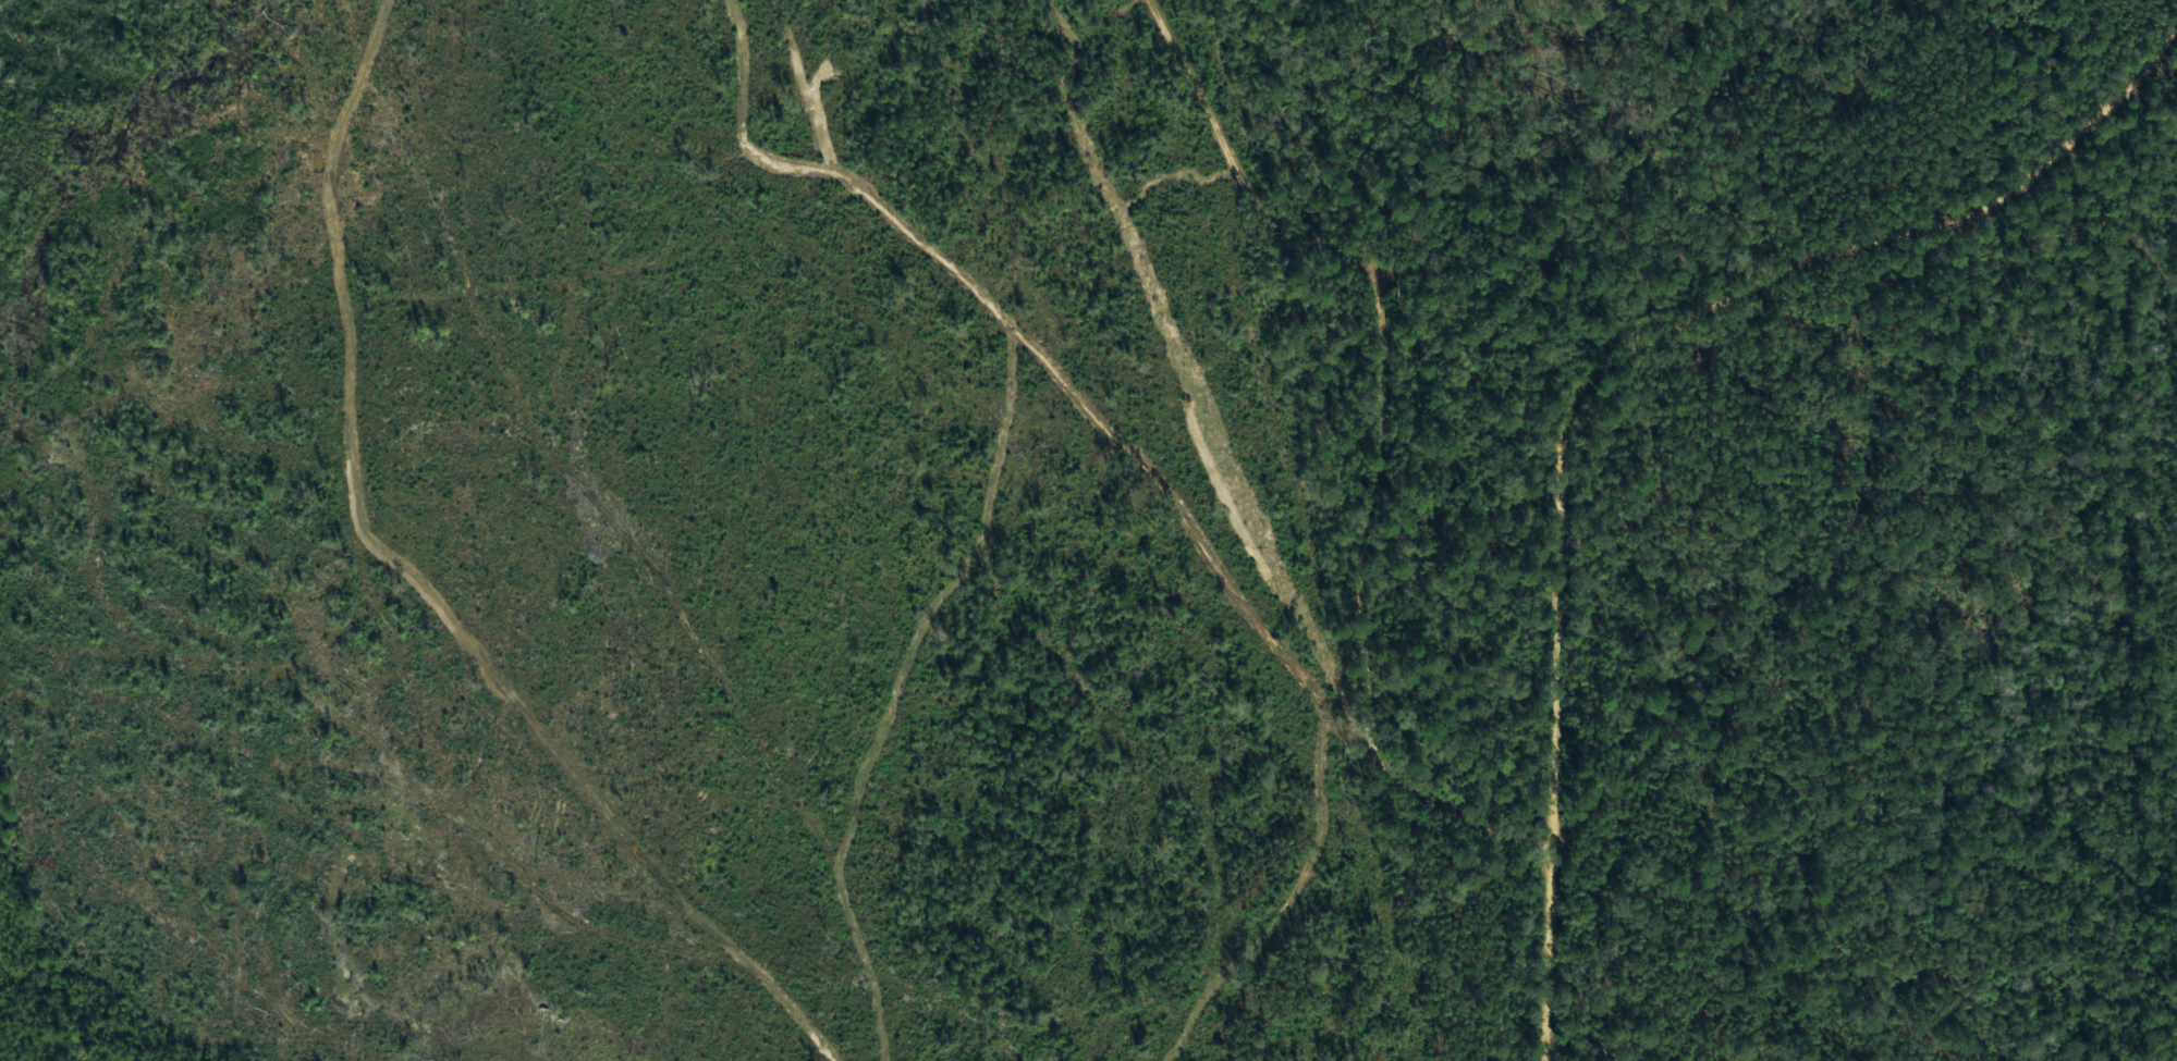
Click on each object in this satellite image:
road: (1704, 325)
road: (1379, 425)
road: (1549, 945)

